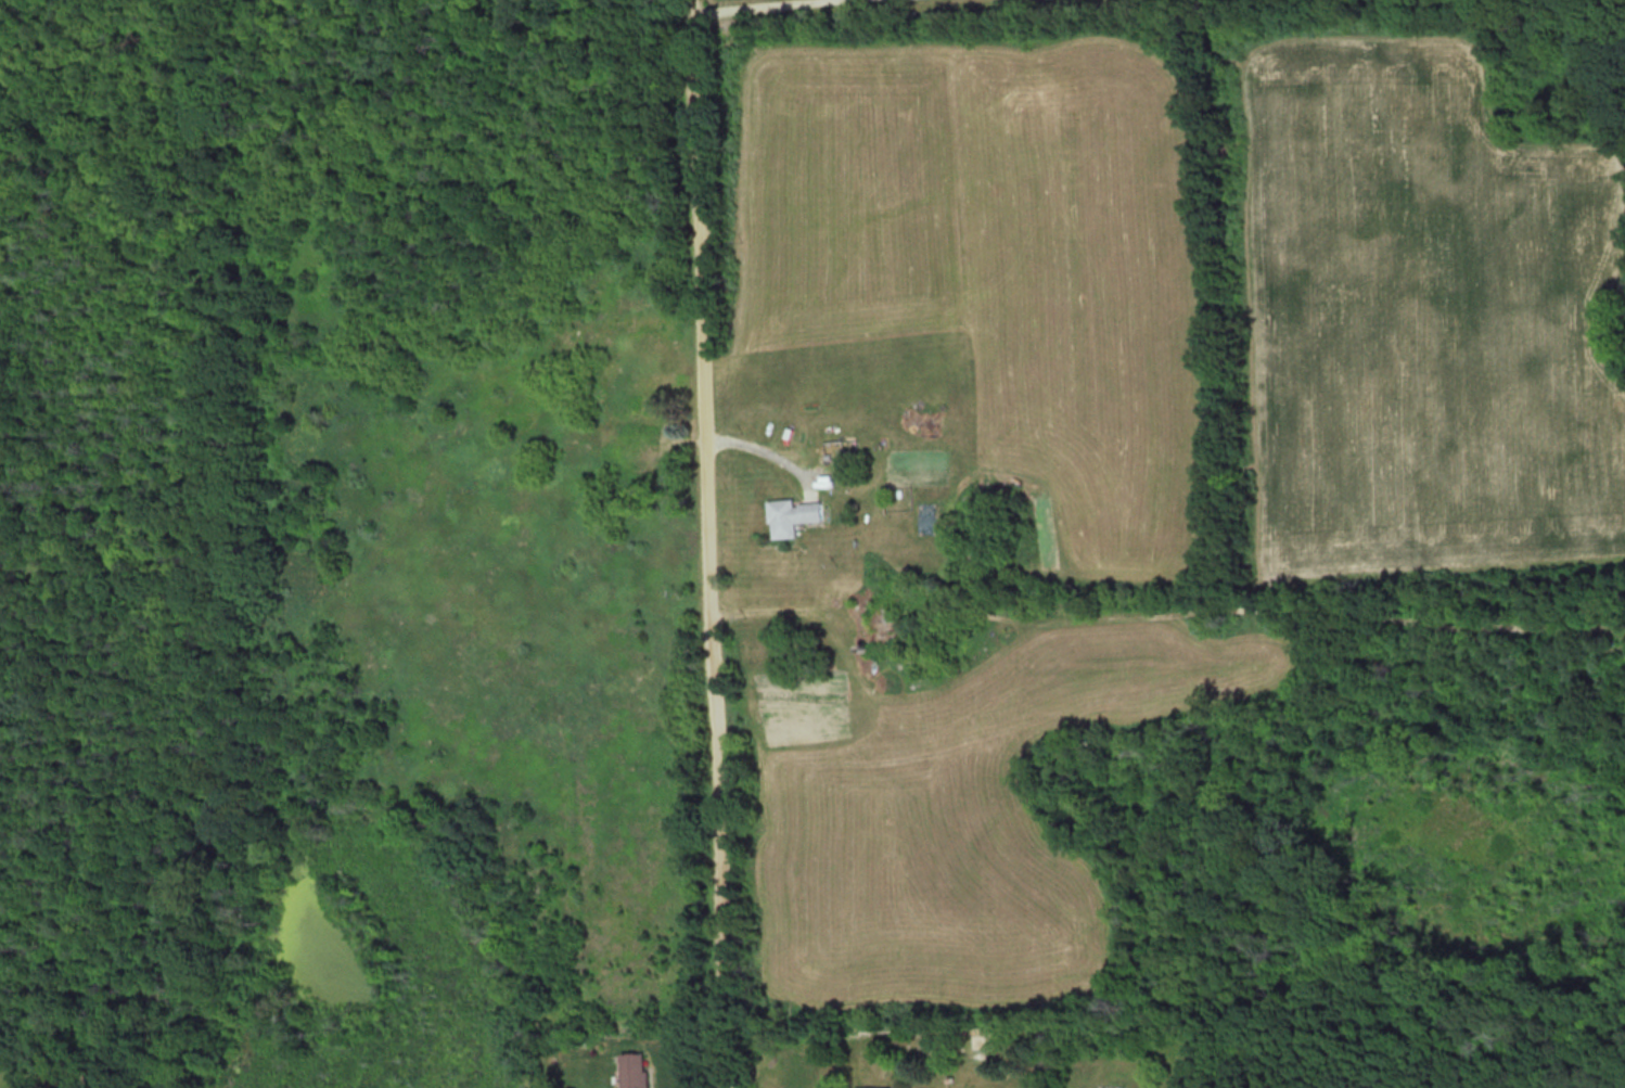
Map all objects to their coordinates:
road: (754, 4)
park: (349, 515)
building: (795, 516)
road: (712, 543)
road: (1170, 606)
building: (642, 1070)

